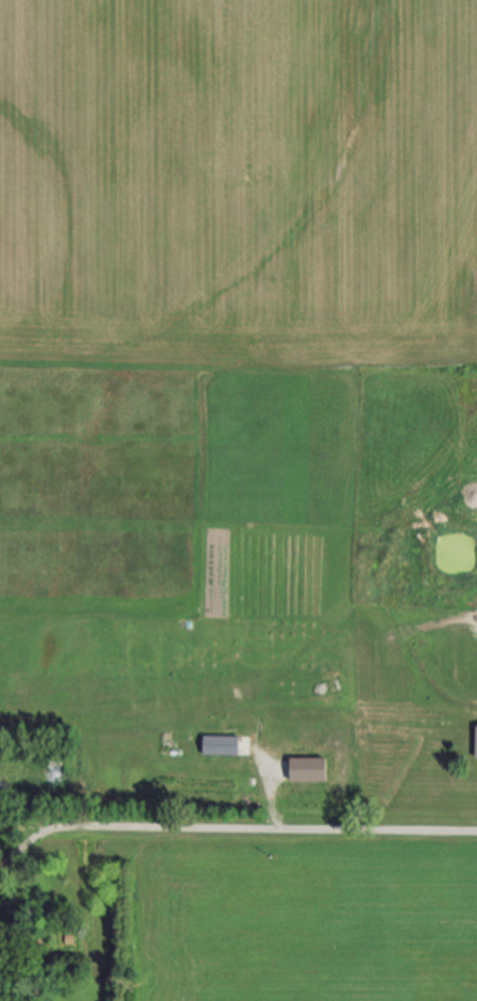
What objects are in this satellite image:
building: (224, 746)
building: (476, 748)
building: (311, 769)
road: (271, 828)
road: (28, 840)

